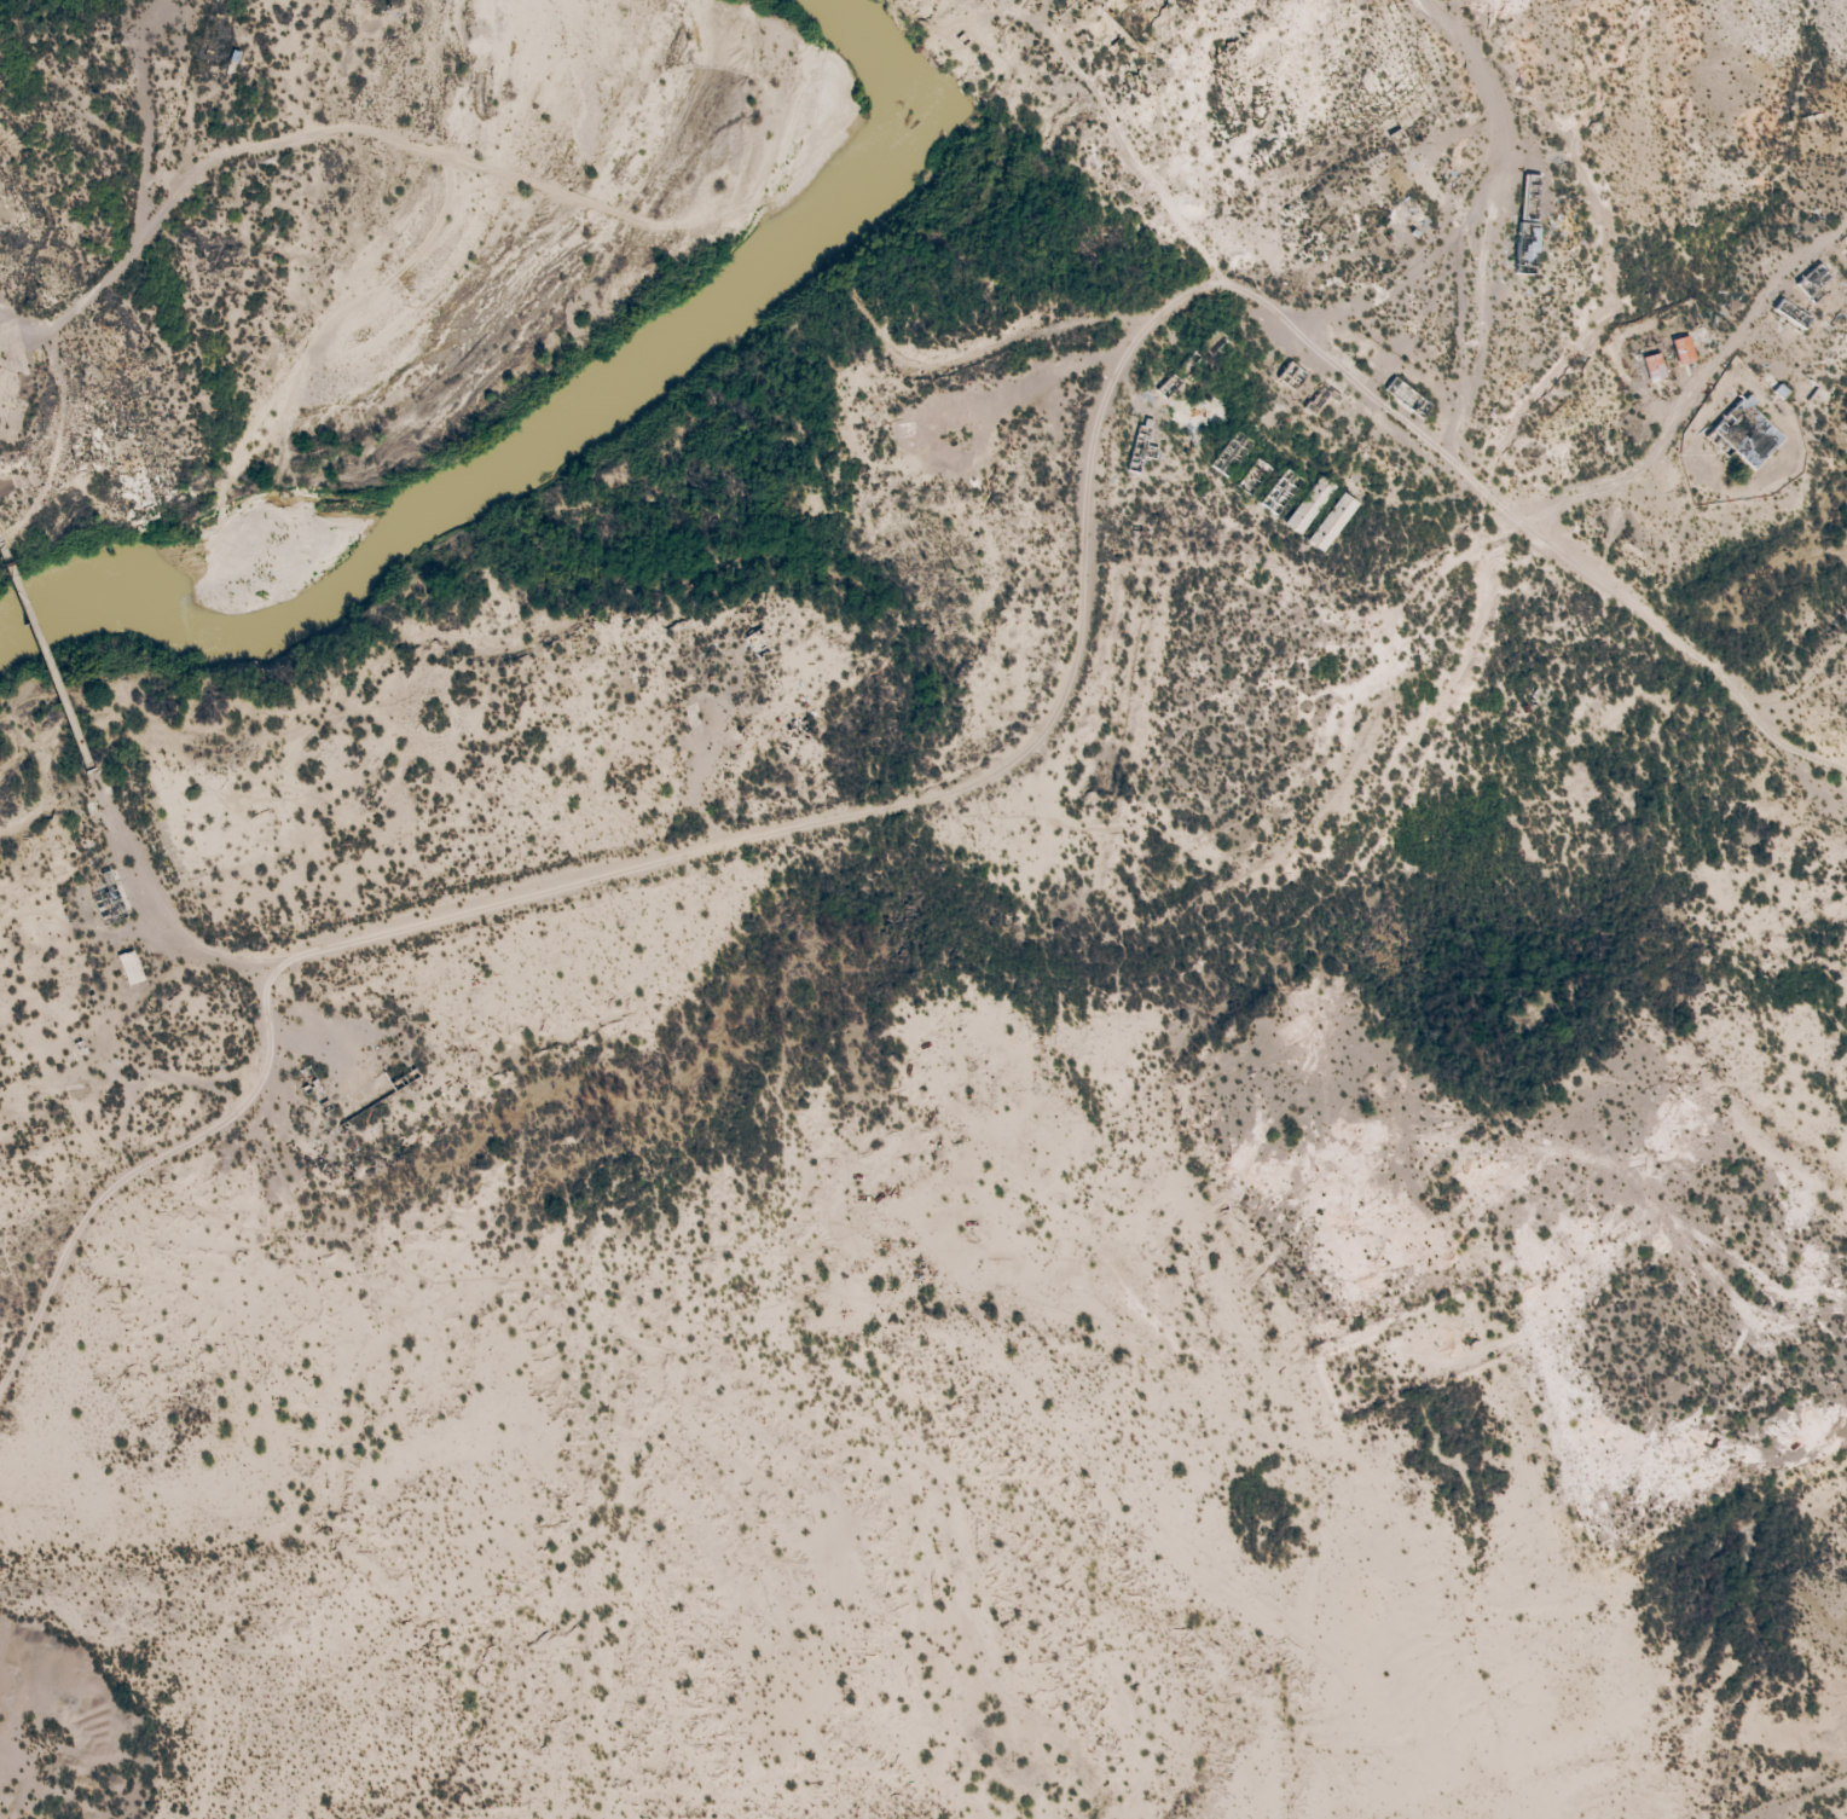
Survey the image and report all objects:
road: (1490, 98)
road: (1121, 139)
road: (243, 160)
building: (1527, 219)
road: (1397, 272)
building: (1787, 312)
road: (1483, 334)
building: (1680, 351)
building: (1651, 367)
road: (1700, 393)
river: (583, 405)
building: (1745, 434)
building: (1251, 477)
building: (1305, 505)
building: (1328, 522)
road: (1557, 546)
road: (11, 584)
road: (1805, 678)
road: (56, 689)
road: (803, 832)
building: (135, 963)
road: (1812, 1804)

